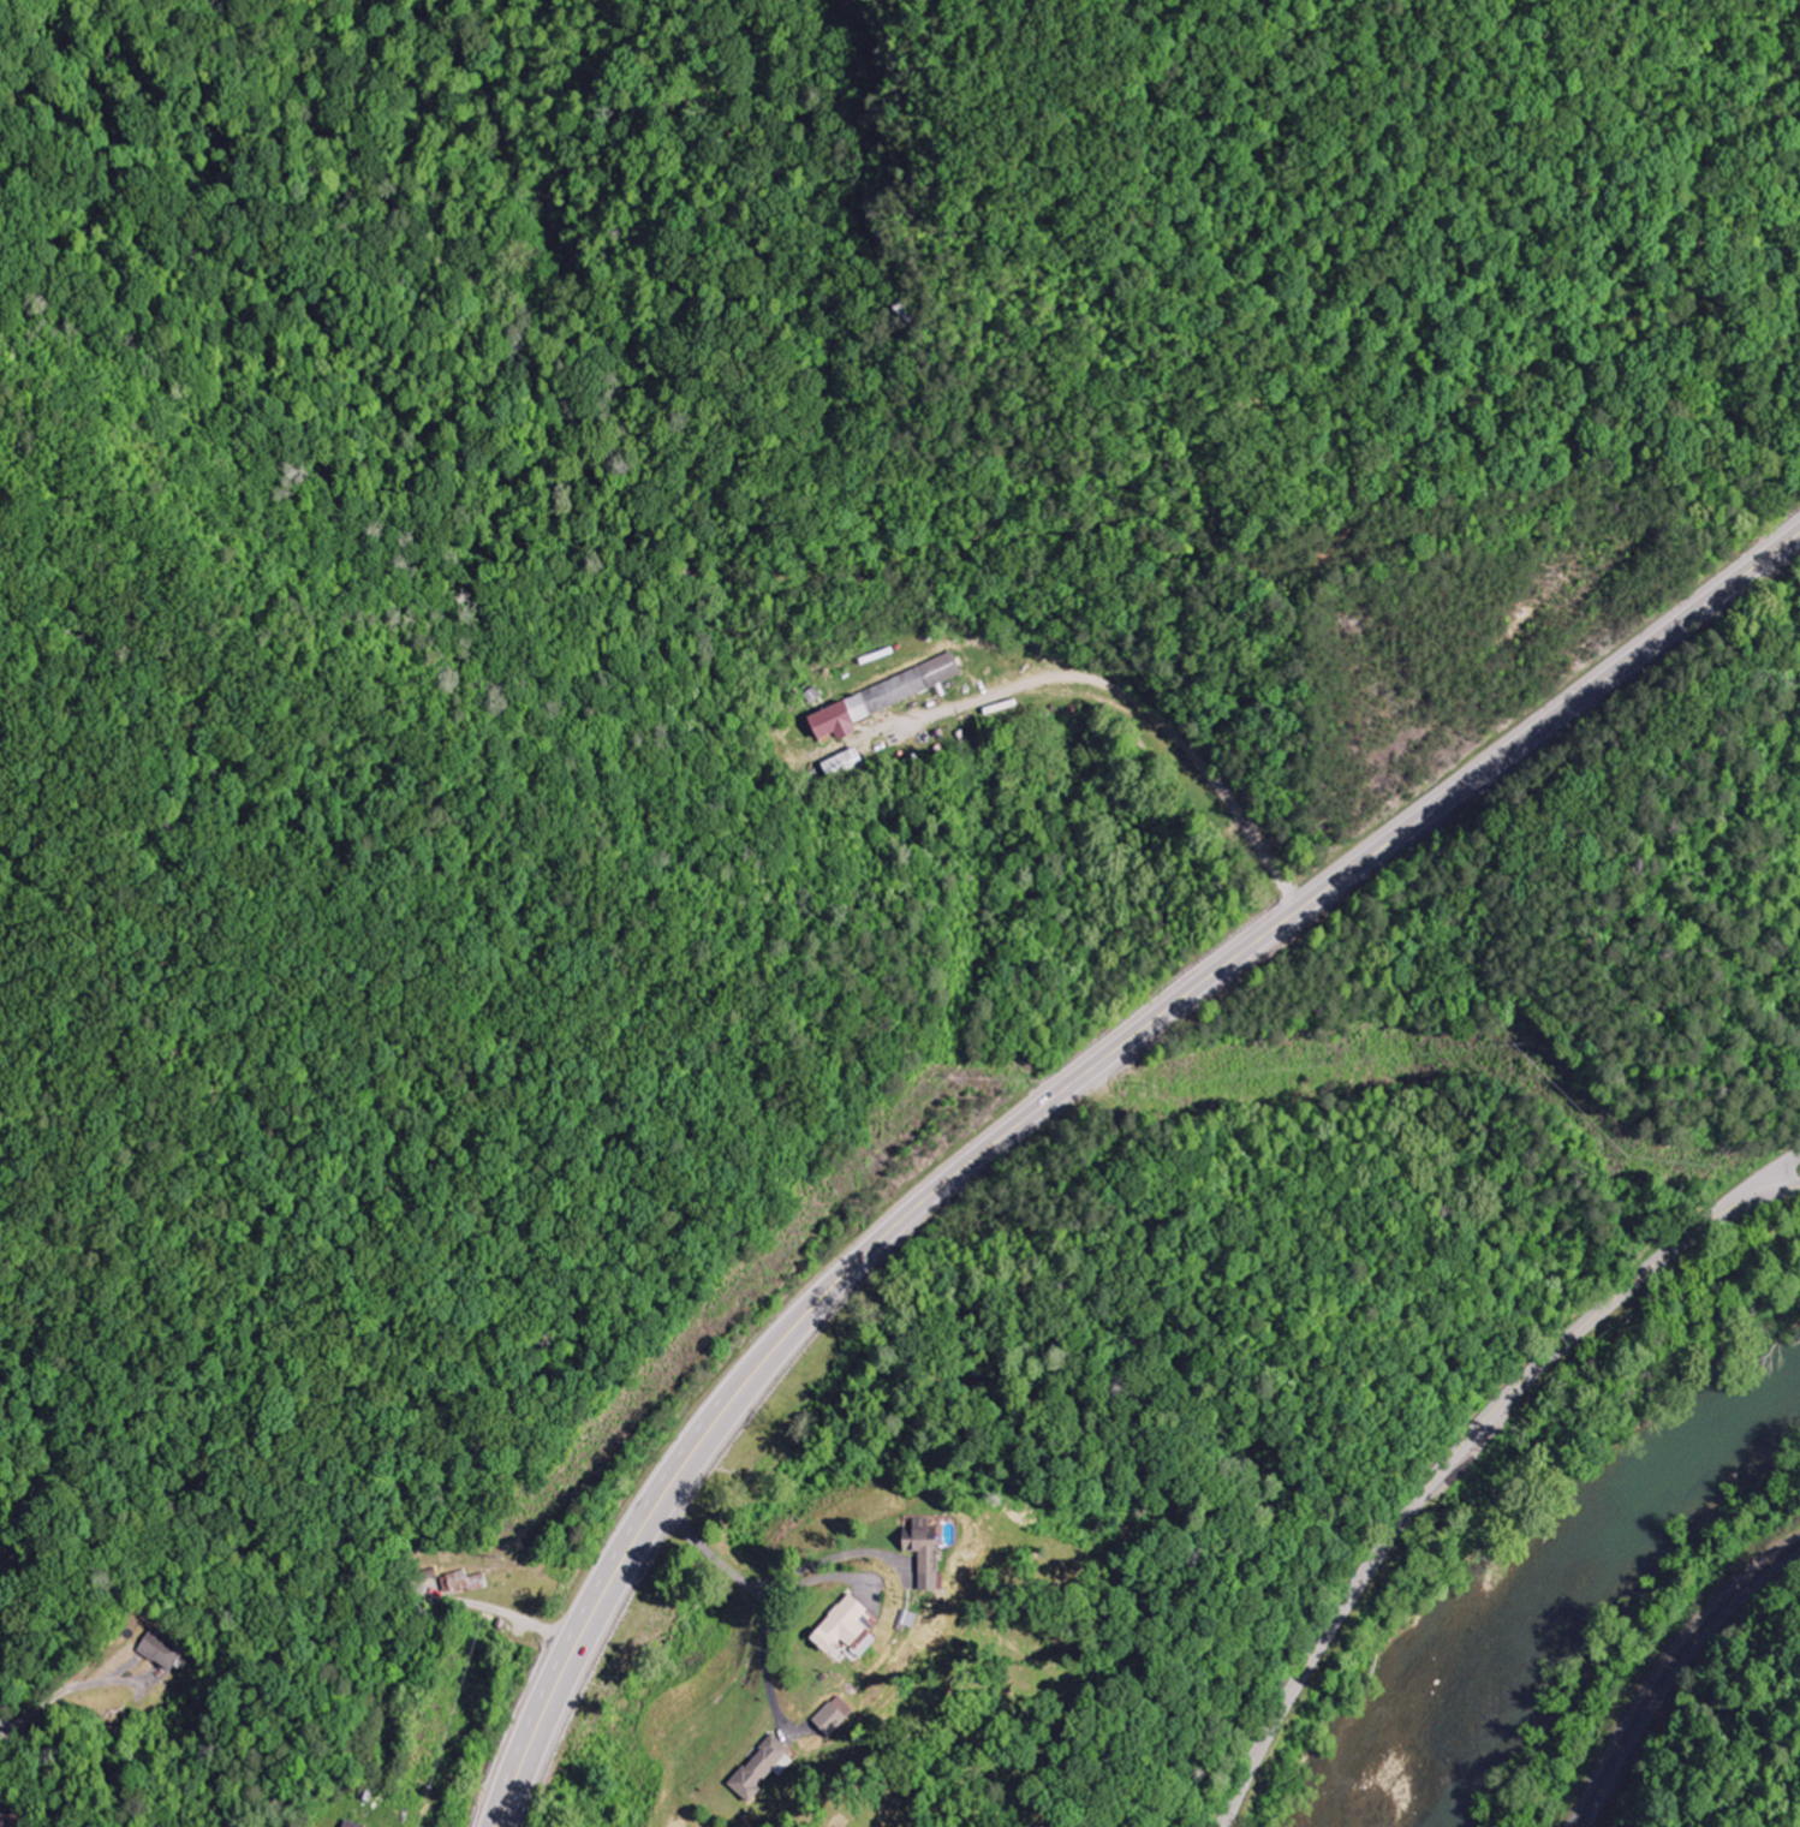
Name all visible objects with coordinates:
road: (1150, 660)
building: (884, 698)
building: (845, 764)
road: (1054, 1093)
road: (1756, 1188)
road: (1455, 1456)
road: (702, 1543)
building: (934, 1554)
river: (1583, 1585)
building: (860, 1627)
building: (162, 1649)
railway: (1667, 1667)
building: (842, 1716)
road: (5, 1728)
building: (770, 1768)
road: (196, 1815)
building: (347, 1825)

